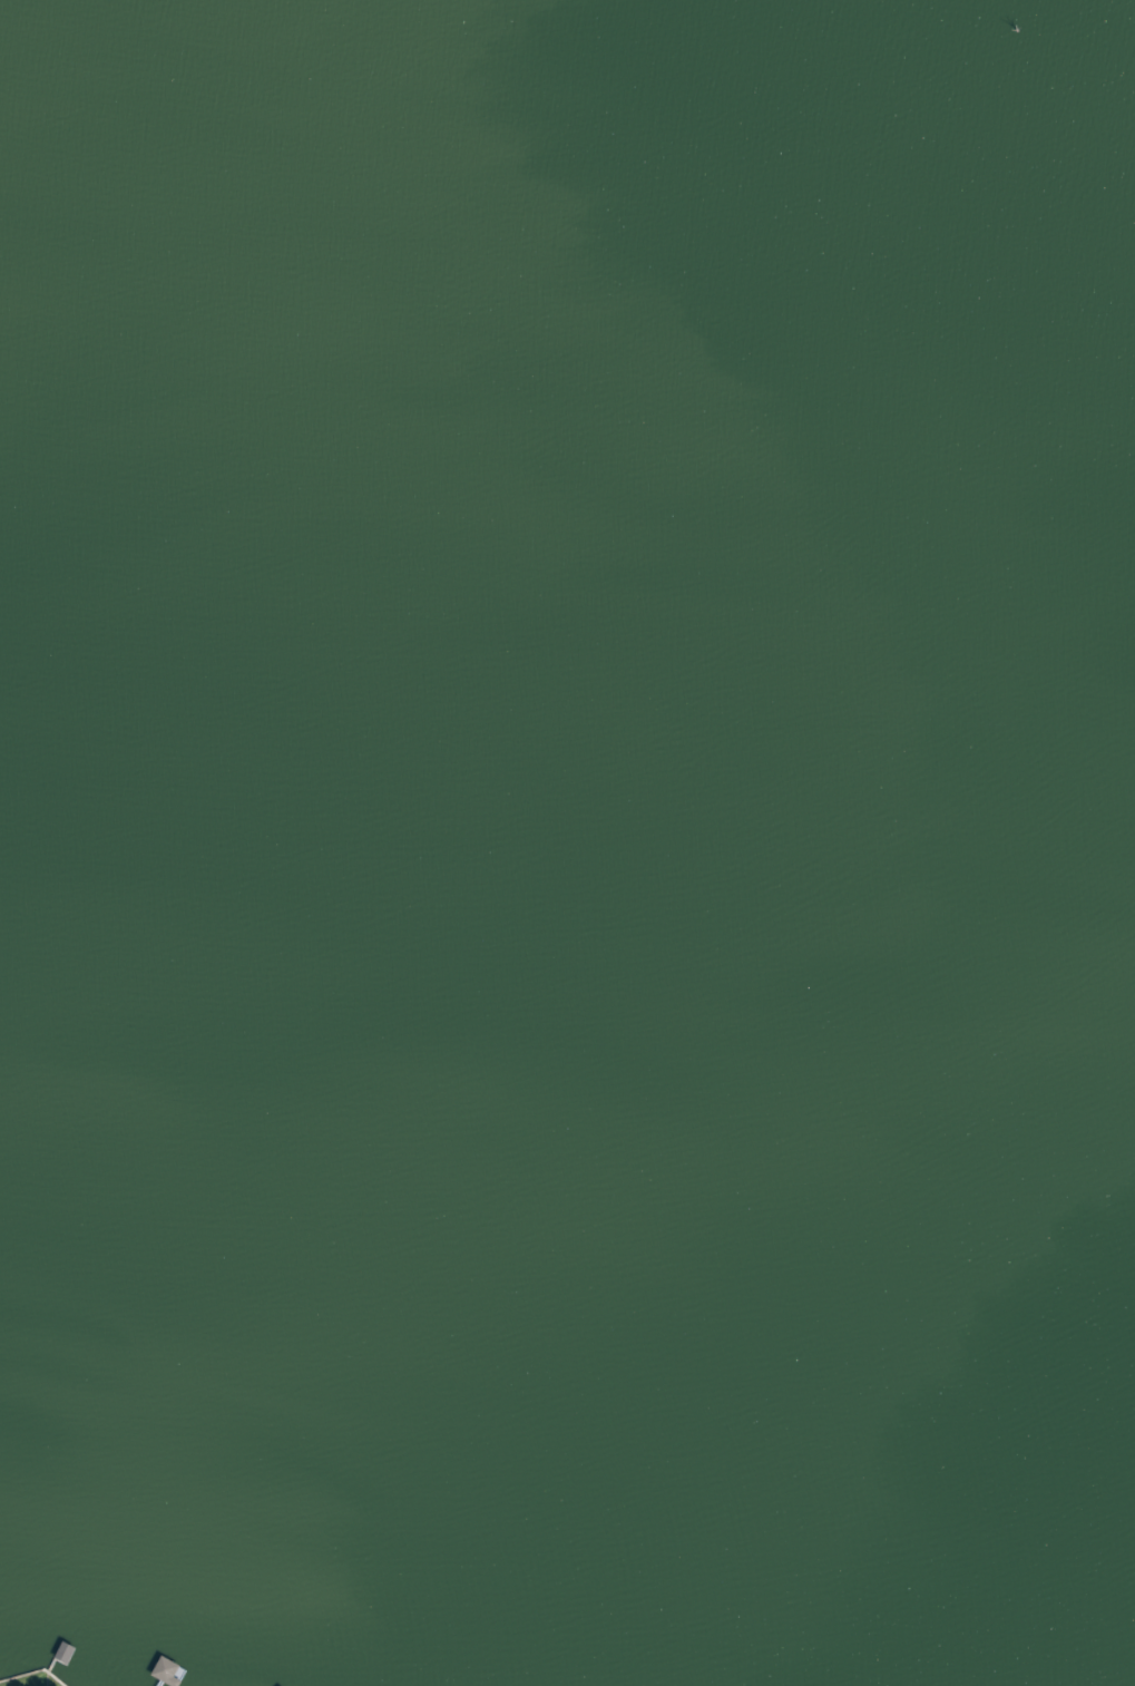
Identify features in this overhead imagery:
building: (169, 1672)

